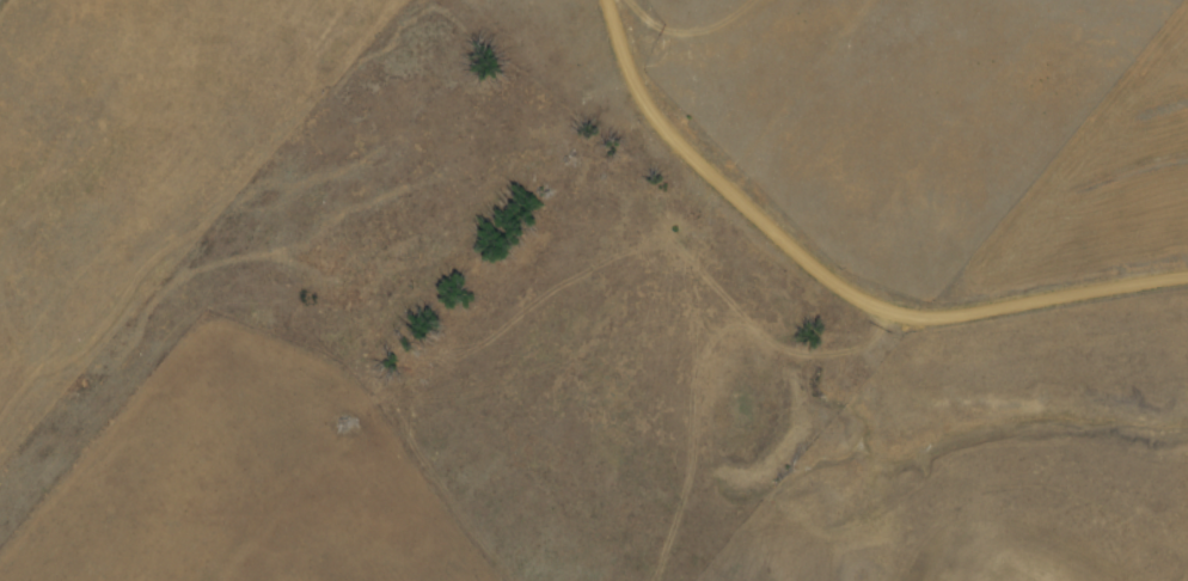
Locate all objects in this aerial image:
road: (827, 286)
road: (1126, 435)

